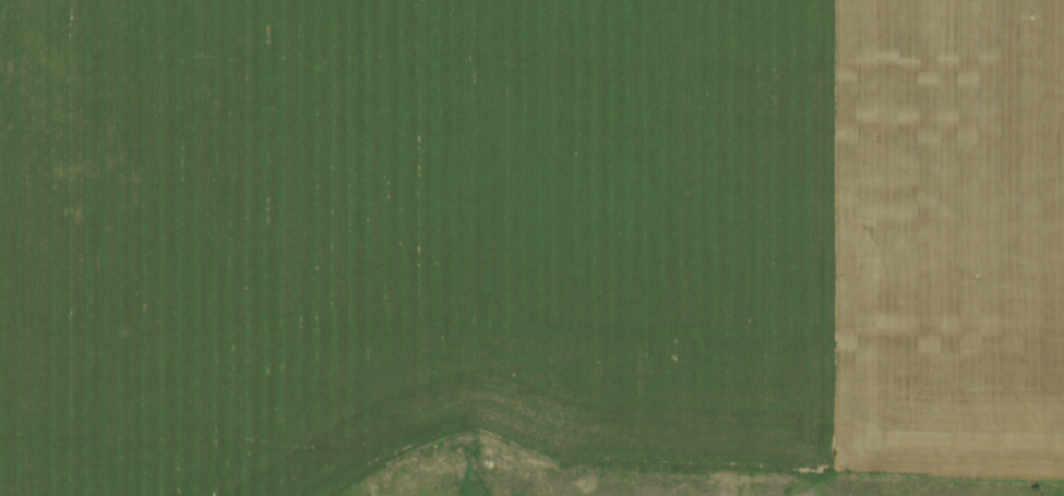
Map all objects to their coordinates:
crop: (945, 237)
crop: (406, 238)

